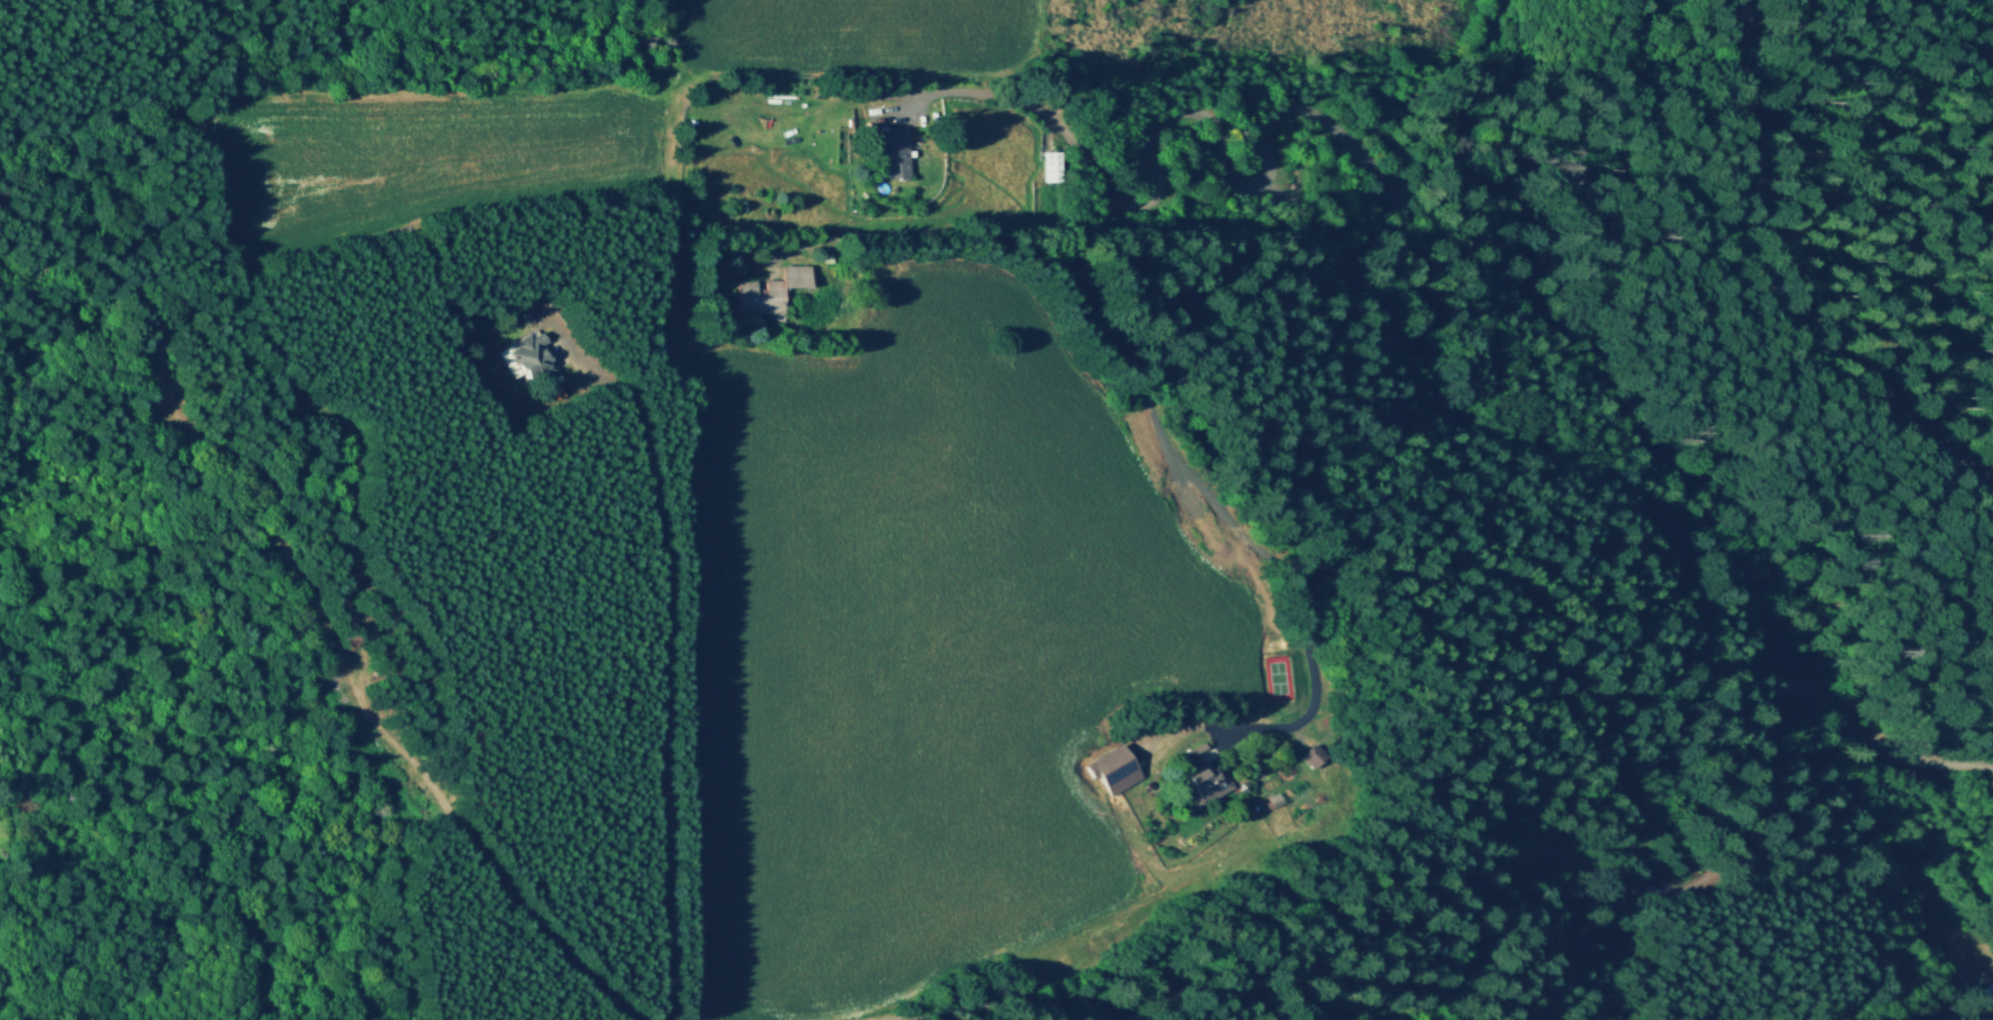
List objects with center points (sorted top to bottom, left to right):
crop: (837, 39)
building: (1059, 87)
road: (917, 104)
building: (802, 147)
building: (897, 152)
building: (1054, 167)
road: (1837, 191)
road: (1422, 251)
building: (830, 260)
road: (1784, 290)
building: (771, 292)
road: (1068, 293)
building: (460, 337)
building: (530, 359)
road: (375, 438)
road: (1472, 567)
road: (312, 577)
crop: (919, 639)
road: (651, 646)
building: (1324, 743)
building: (1315, 757)
building: (1117, 770)
building: (1204, 775)
building: (1245, 787)
building: (1275, 801)
road: (1760, 801)
road: (1260, 889)
road: (1484, 924)
building: (1989, 989)
road: (1092, 1000)

